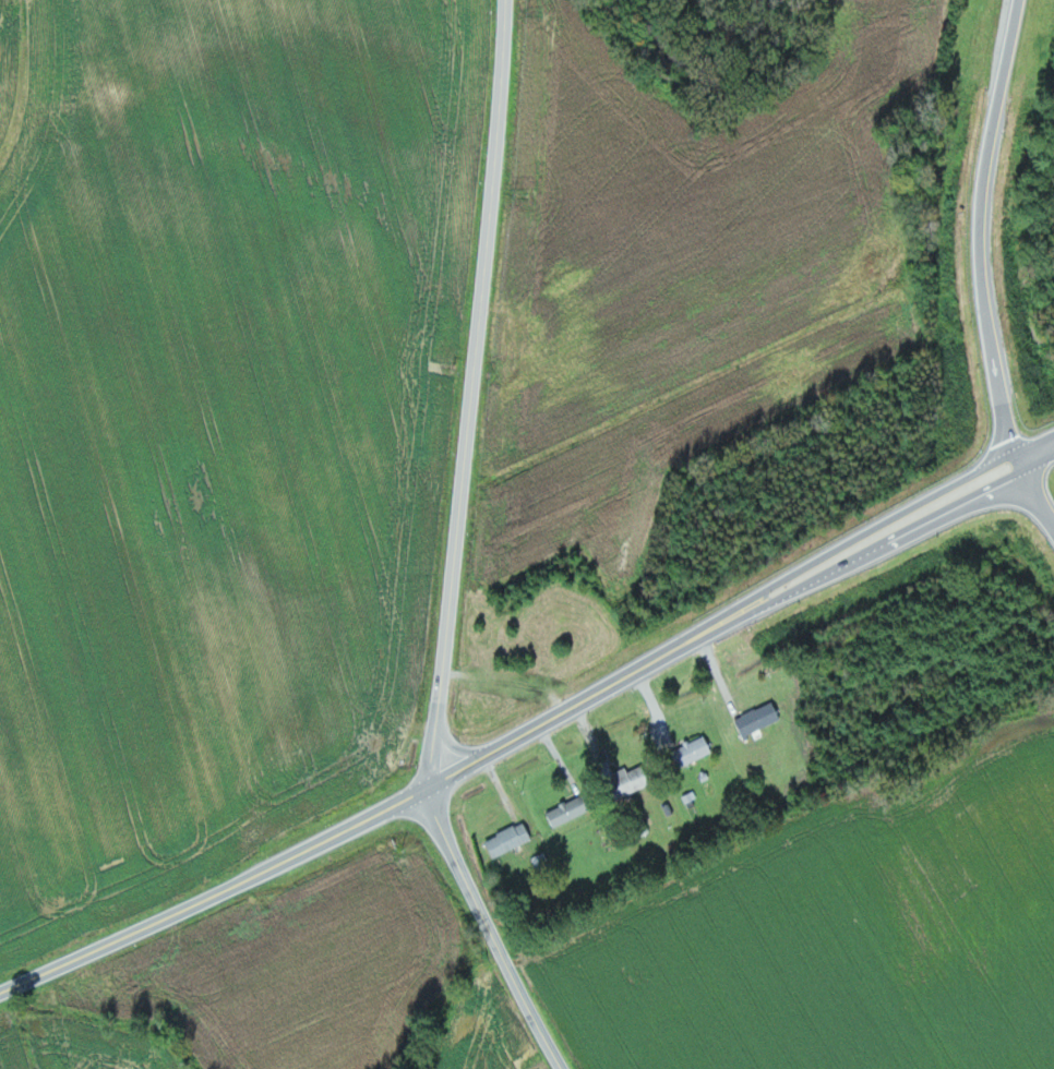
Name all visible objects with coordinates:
road: (981, 268)
road: (455, 549)
road: (742, 612)
building: (759, 717)
building: (693, 749)
building: (634, 778)
building: (570, 809)
building: (510, 838)
road: (216, 882)

